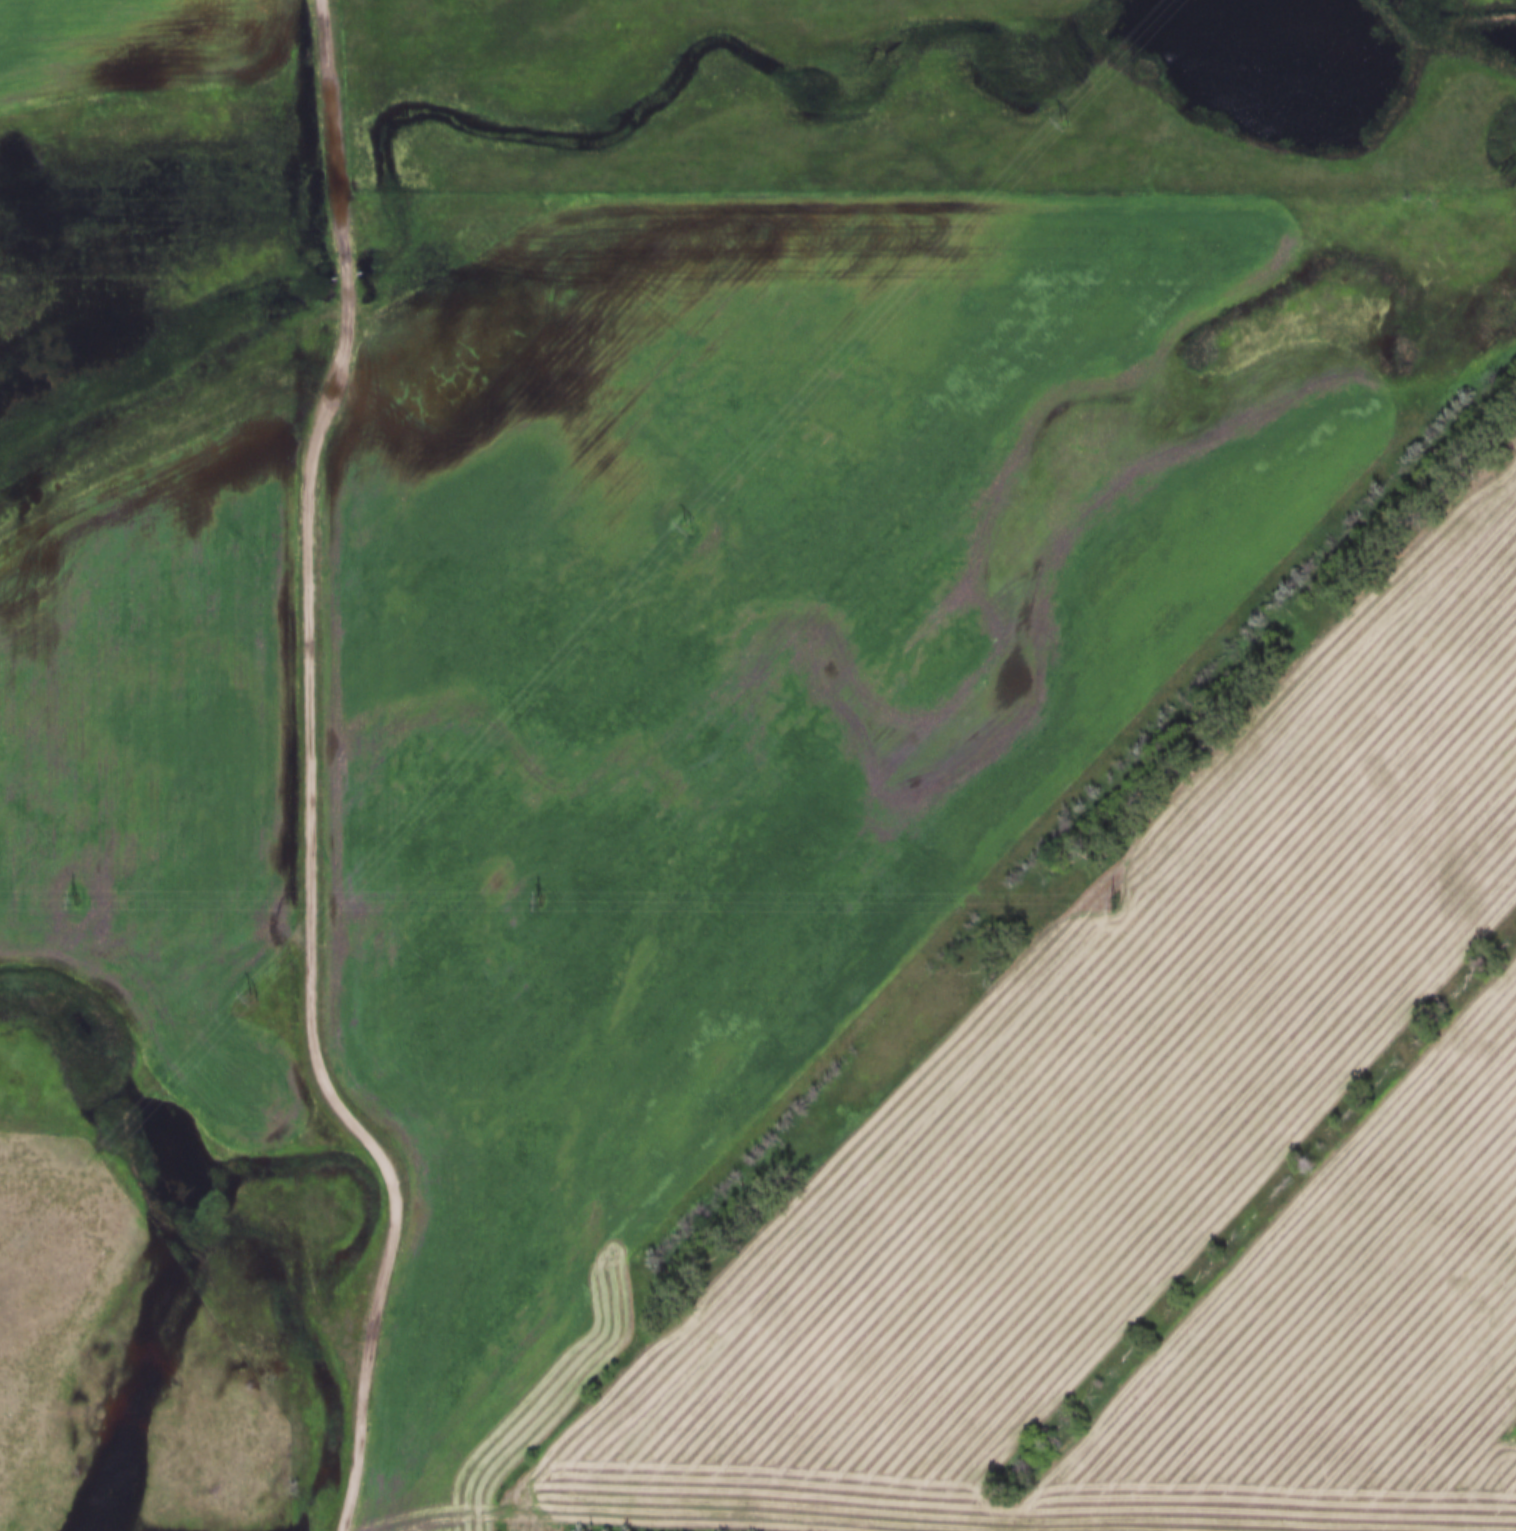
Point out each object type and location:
power tower: (1066, 125)
power tower: (691, 530)
road: (311, 776)
power tower: (251, 998)

